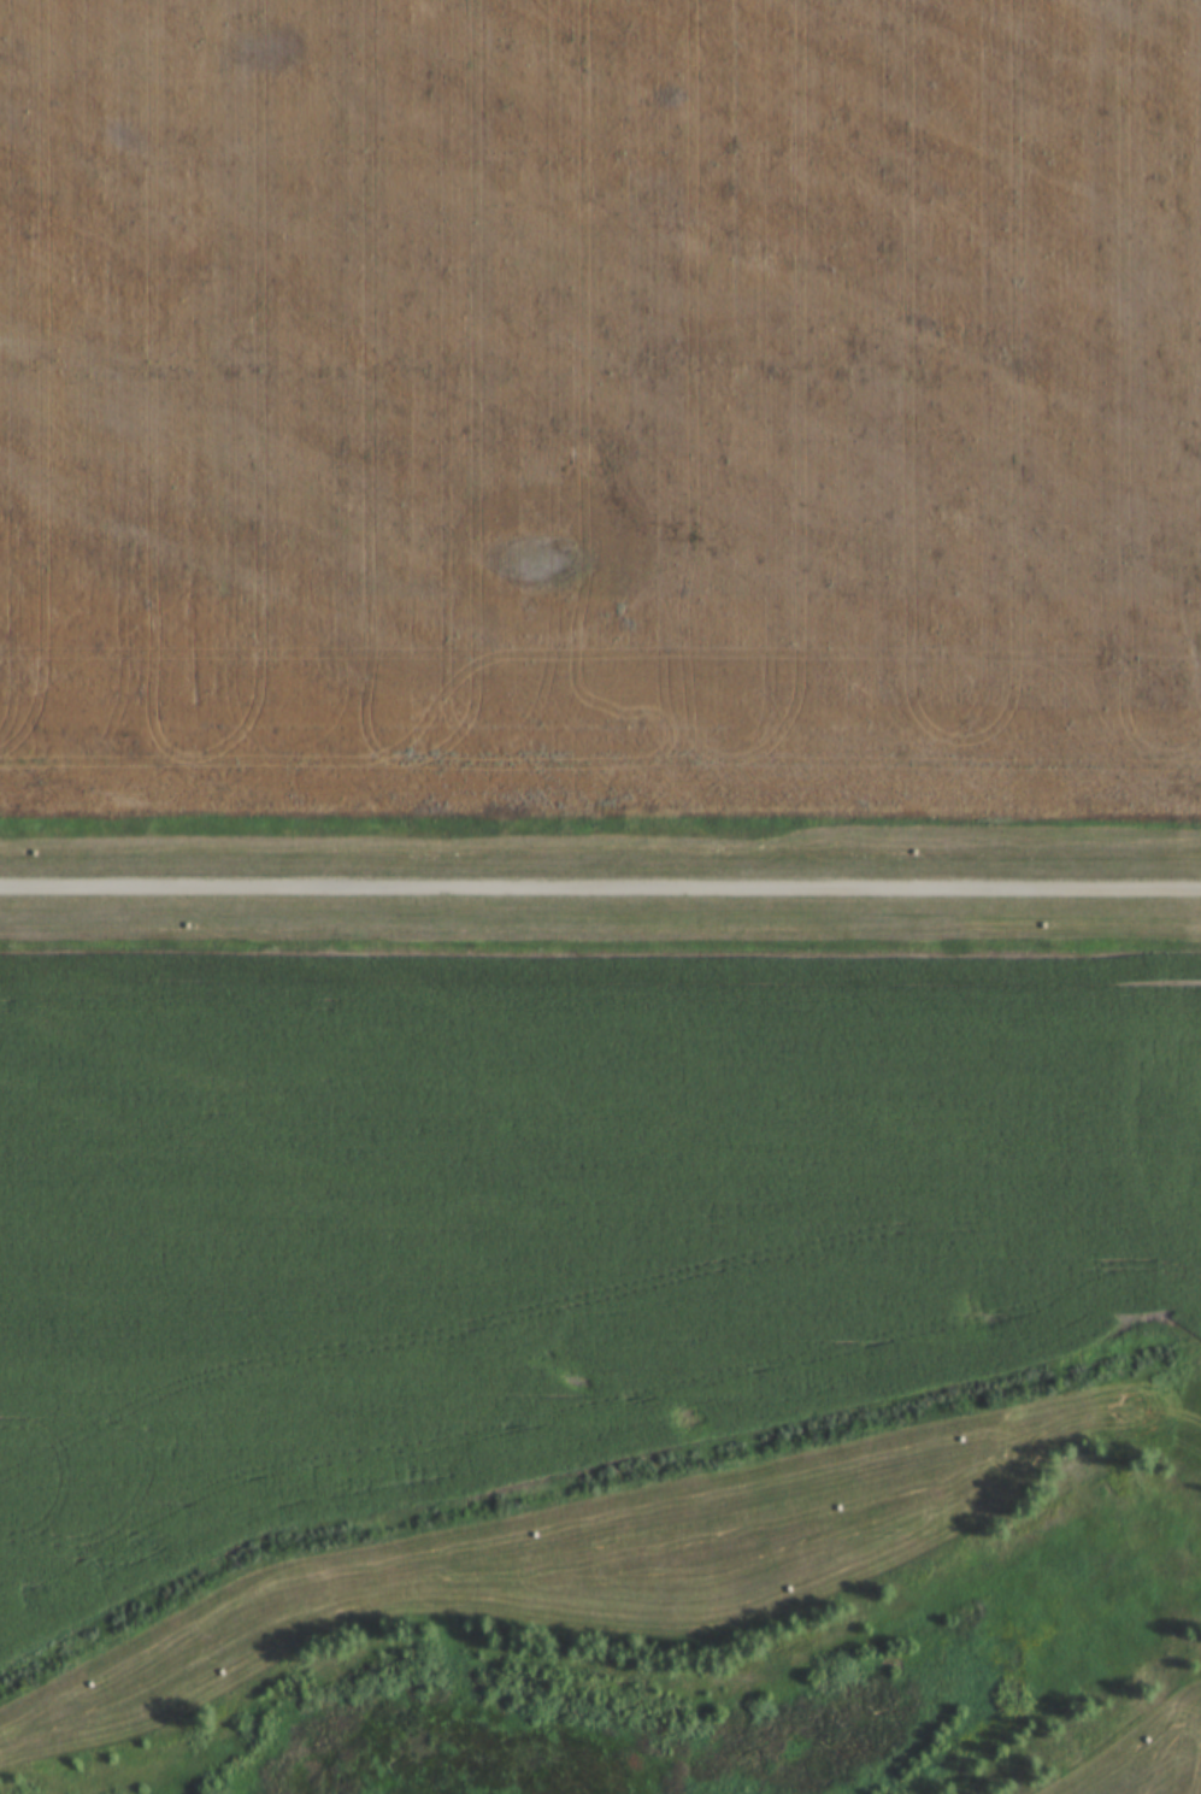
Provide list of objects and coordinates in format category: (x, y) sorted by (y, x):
road: (600, 881)

